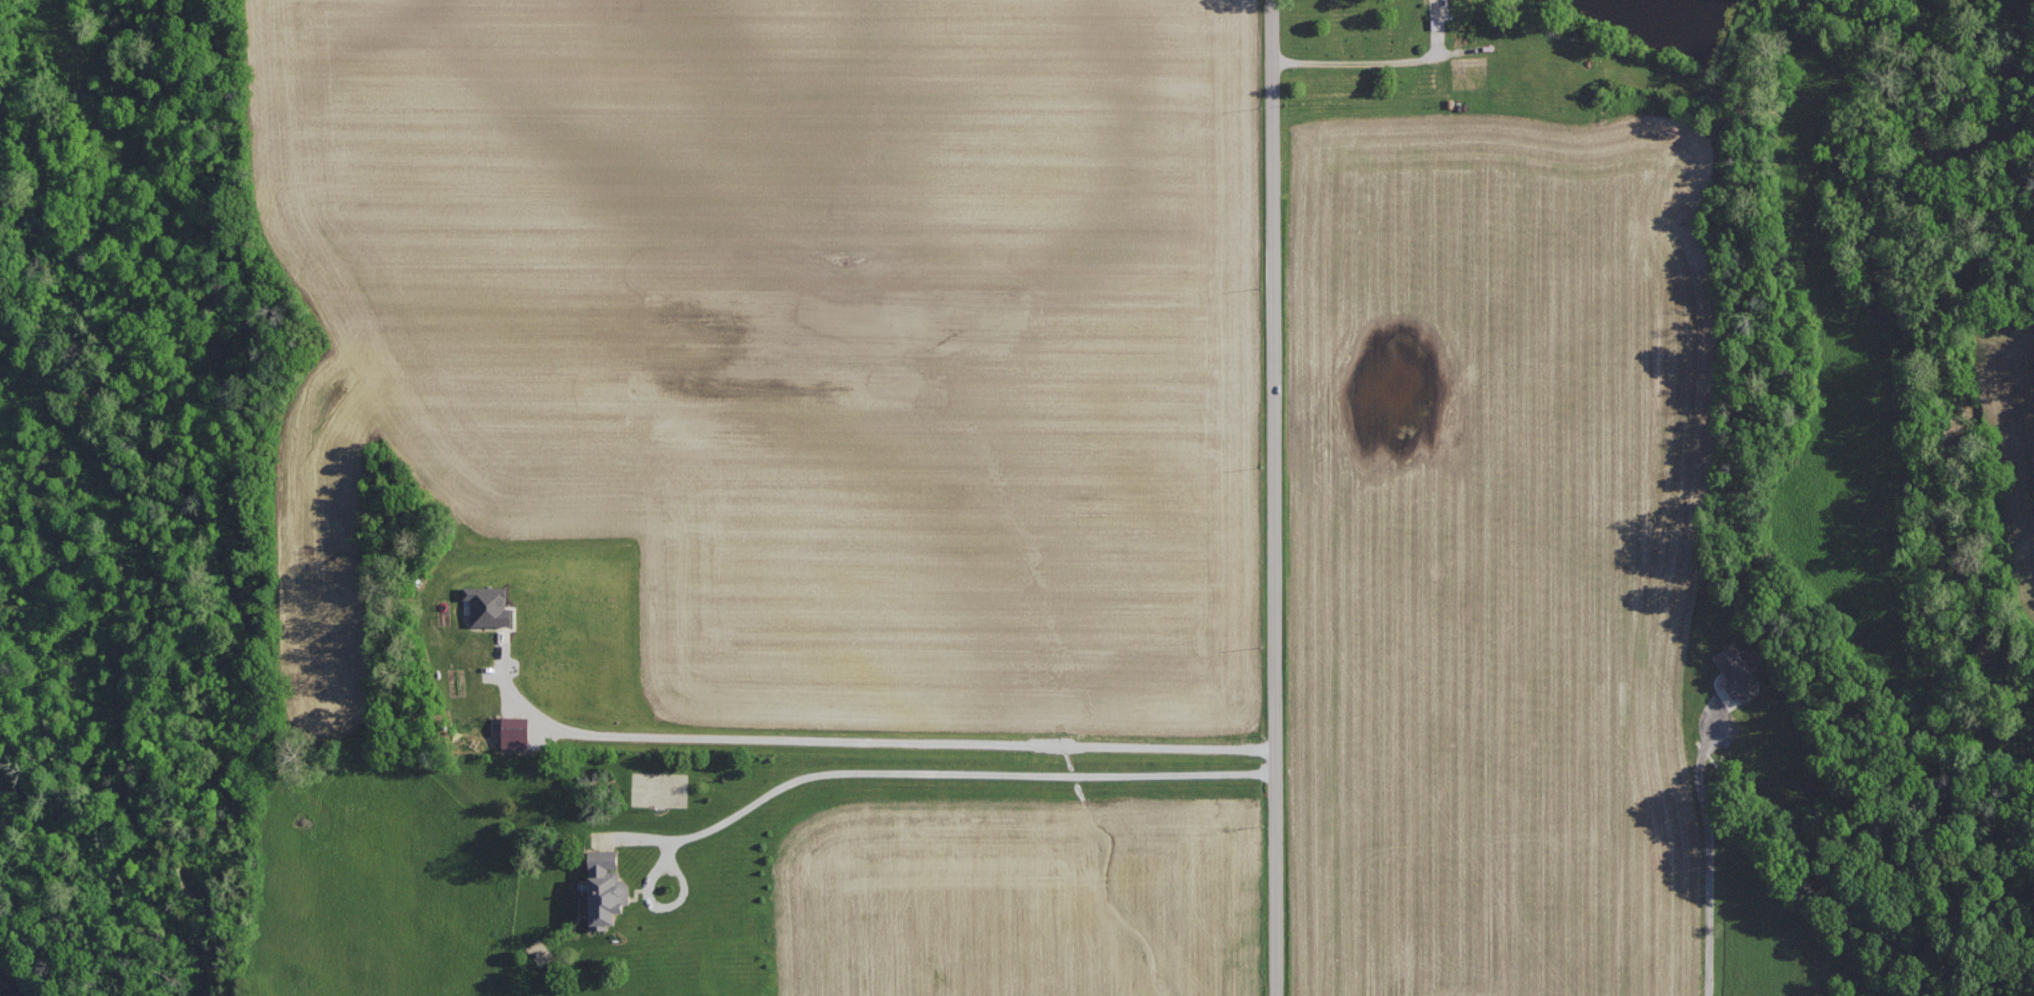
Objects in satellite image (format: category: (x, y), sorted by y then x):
road: (1368, 61)
road: (1274, 498)
building: (489, 605)
building: (1736, 672)
building: (515, 726)
road: (869, 739)
road: (954, 771)
road: (1703, 850)
building: (606, 887)

